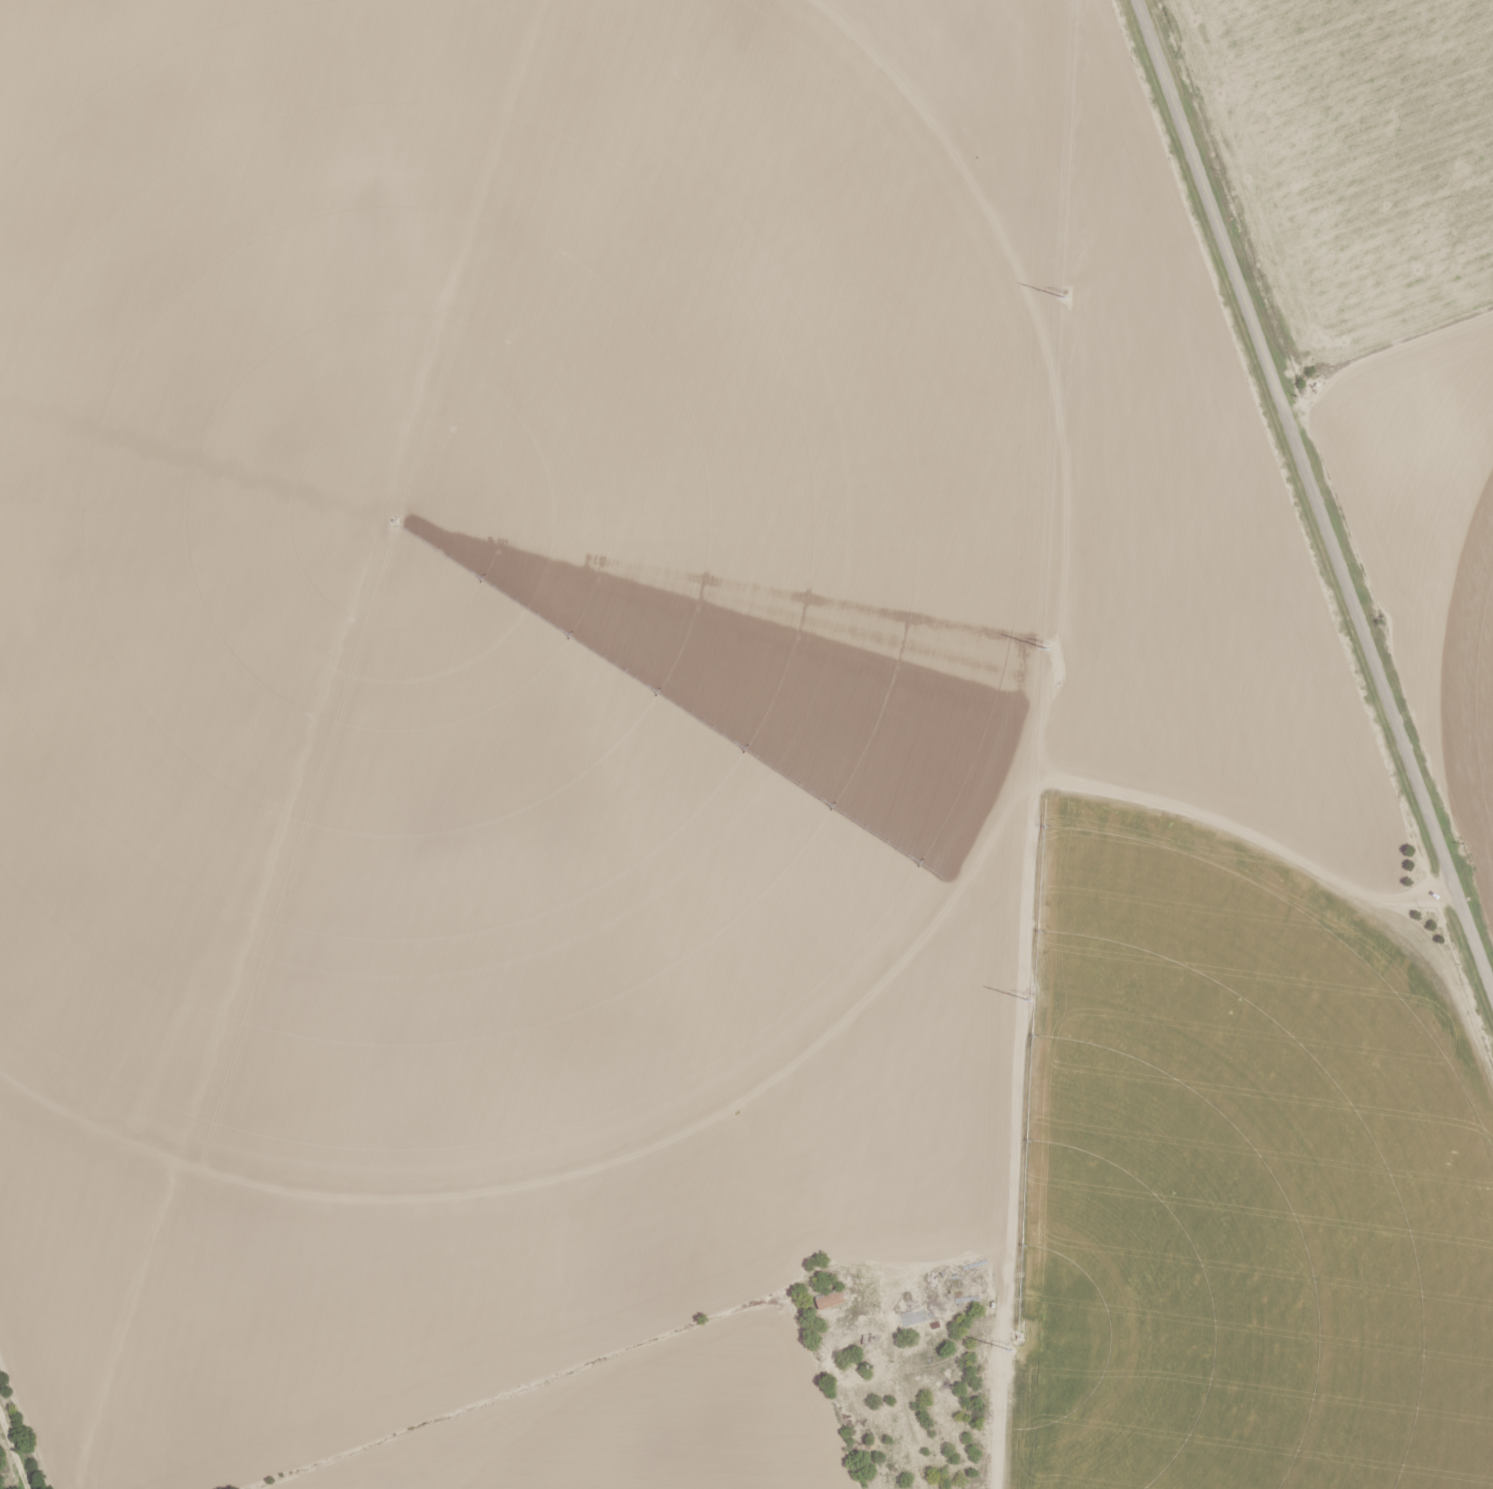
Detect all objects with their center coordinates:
power tower: (1069, 290)
road: (1315, 493)
power tower: (1050, 642)
power tower: (1031, 993)
power tower: (1013, 1345)

